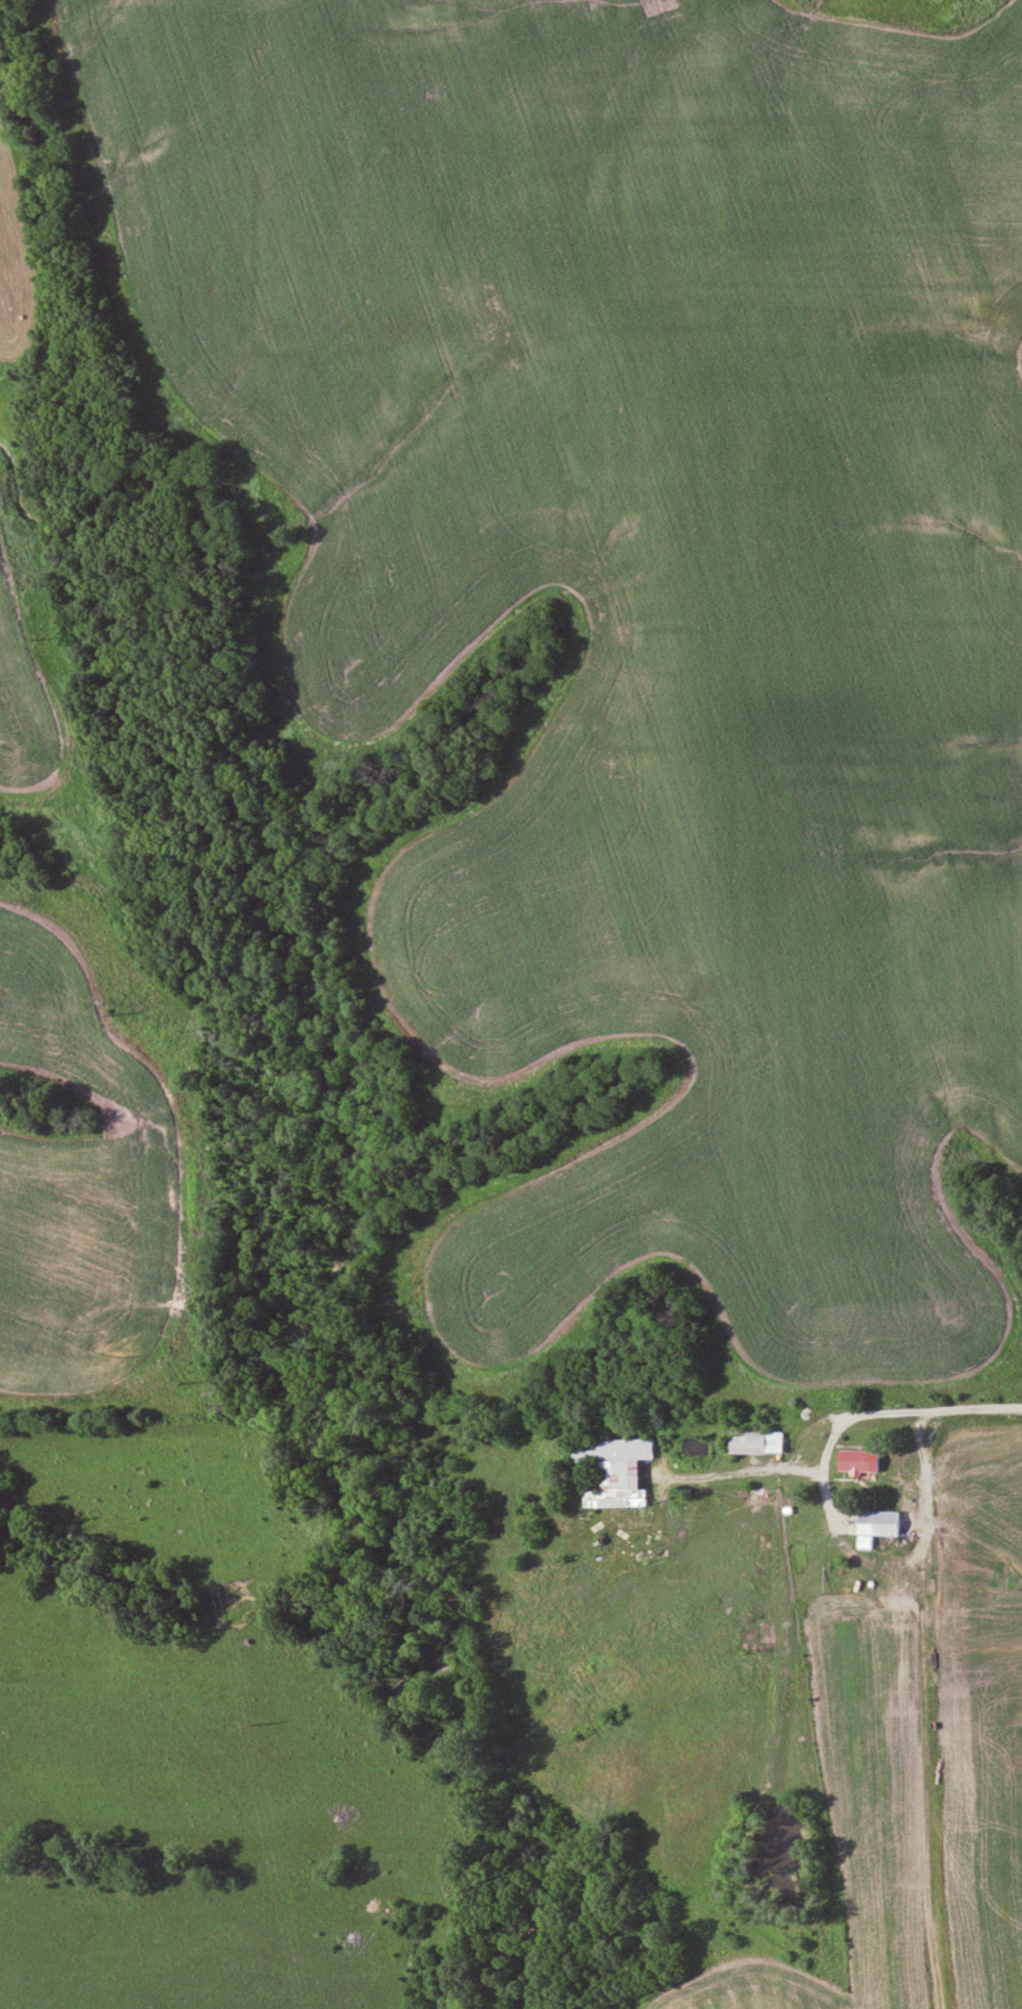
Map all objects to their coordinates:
power tower: (31, 635)
power tower: (112, 1006)
power tower: (180, 1373)
road: (873, 1421)
building: (760, 1442)
building: (857, 1461)
building: (618, 1470)
building: (881, 1524)
road: (937, 1714)
power tower: (251, 1717)

